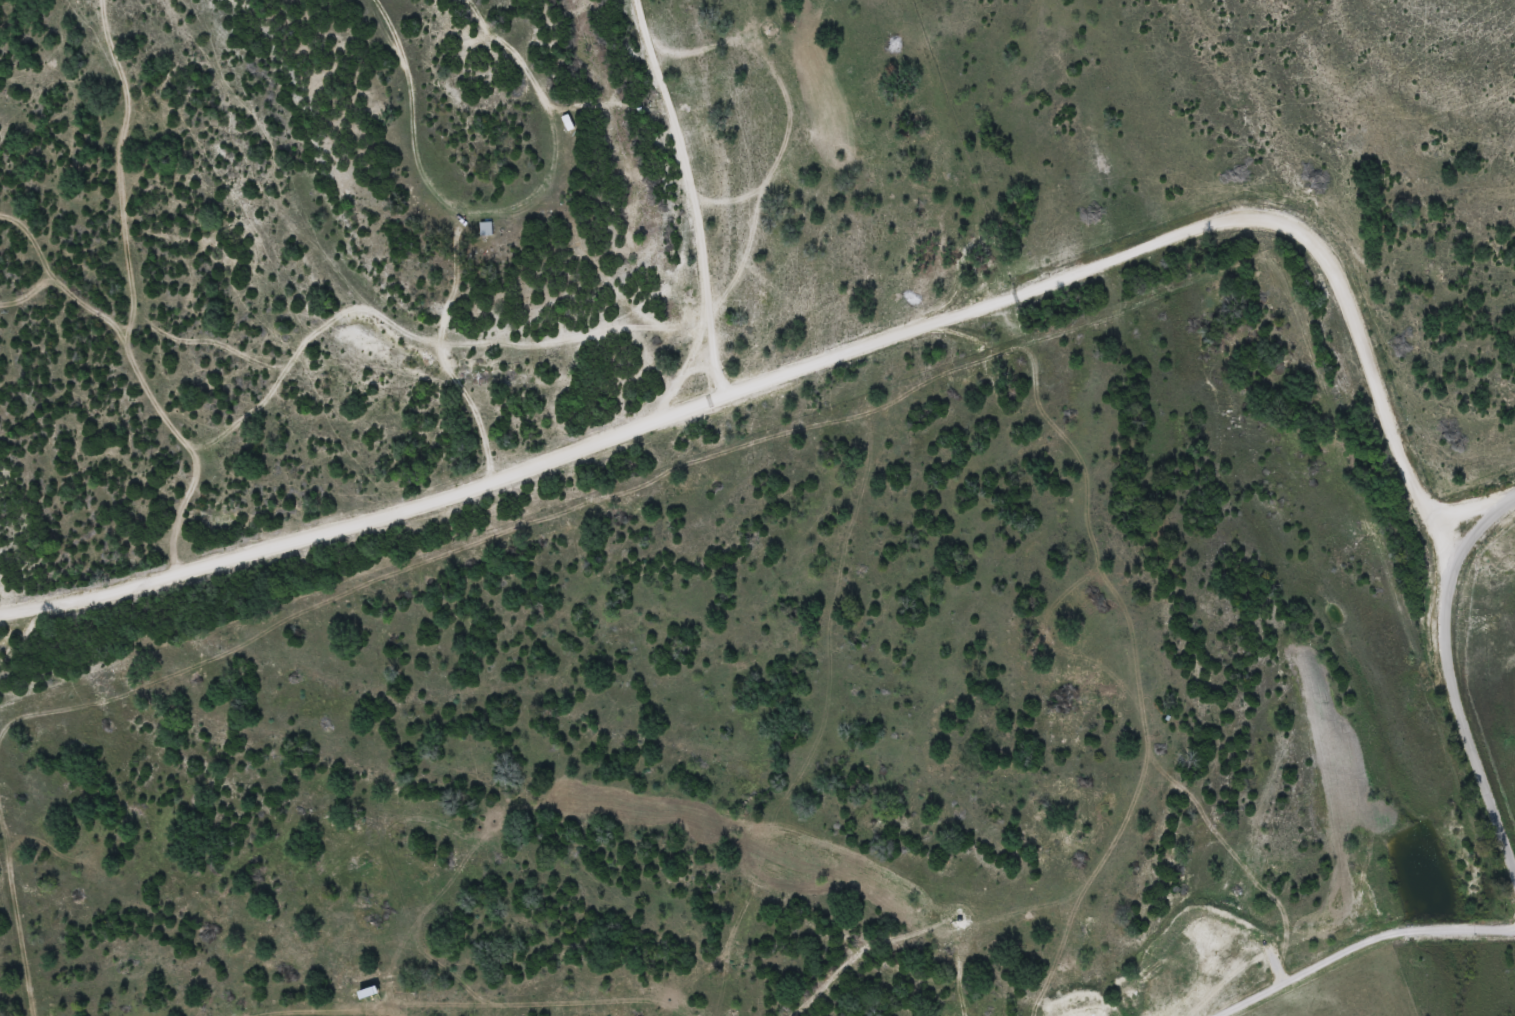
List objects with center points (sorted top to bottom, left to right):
road: (867, 163)
road: (821, 360)
road: (1445, 688)

